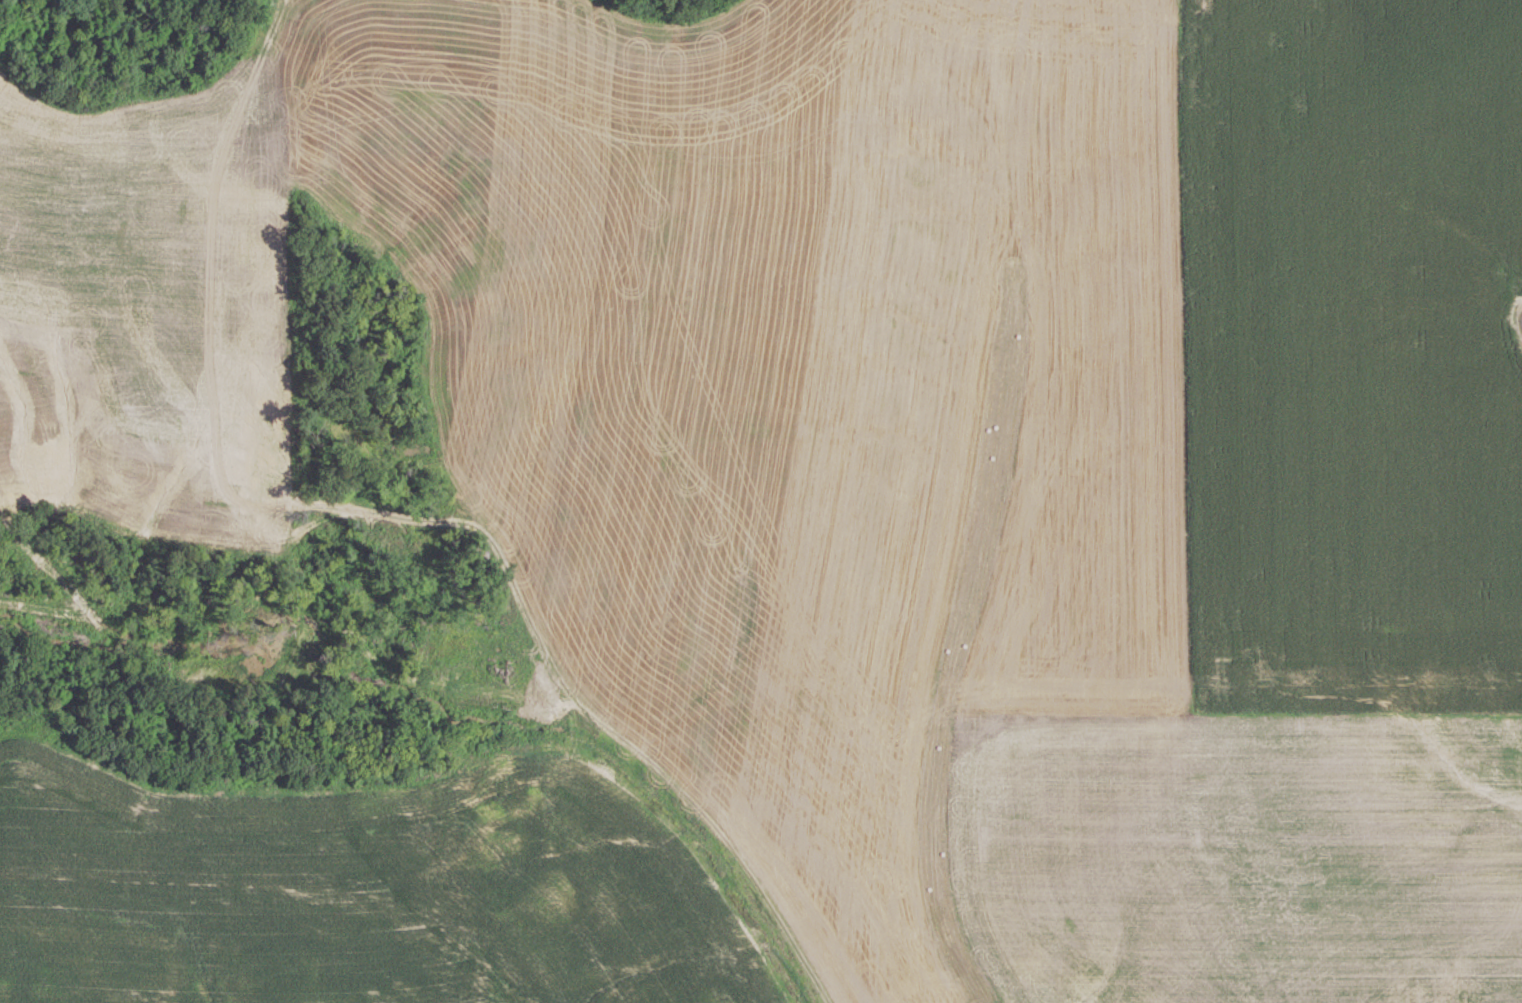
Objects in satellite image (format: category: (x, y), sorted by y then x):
road: (324, 262)
crop: (1355, 352)

